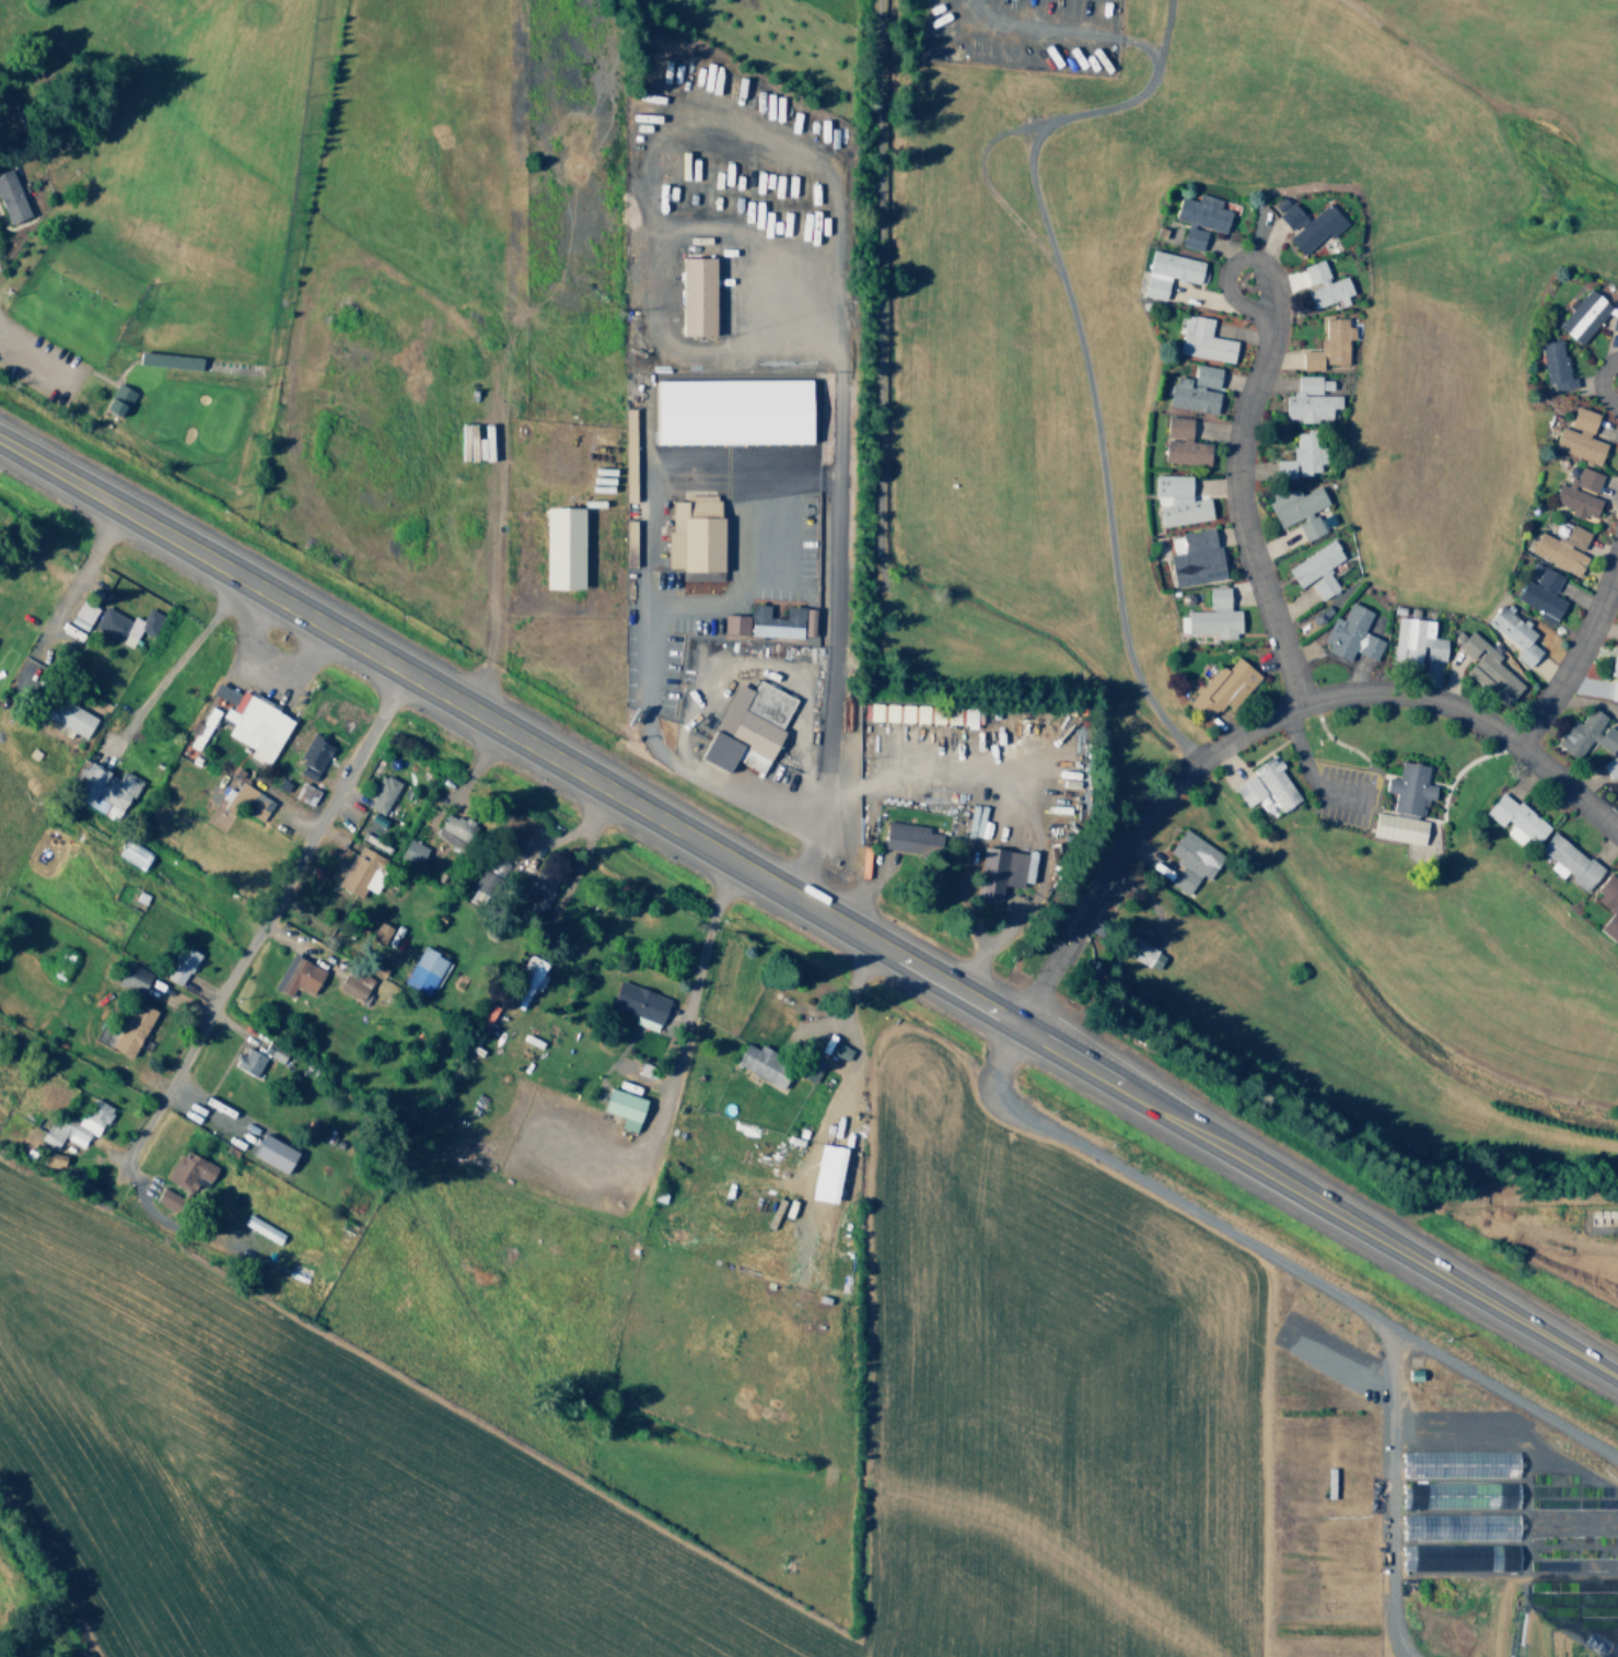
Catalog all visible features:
building: (8, 118)
building: (10, 198)
building: (1201, 211)
building: (1190, 236)
building: (1168, 272)
building: (1323, 285)
building: (696, 295)
building: (1582, 315)
building: (1615, 317)
building: (1202, 340)
building: (1328, 346)
building: (1553, 364)
road: (1600, 386)
building: (1195, 389)
building: (117, 399)
building: (1309, 400)
building: (732, 411)
road: (1246, 417)
building: (1579, 436)
building: (1182, 443)
building: (1302, 456)
building: (1578, 493)
building: (1178, 500)
building: (1293, 504)
building: (1309, 528)
building: (694, 533)
building: (562, 547)
building: (1560, 549)
building: (1194, 557)
building: (1315, 570)
road: (77, 580)
building: (1541, 595)
building: (82, 615)
building: (1213, 616)
building: (764, 622)
building: (124, 625)
building: (1350, 633)
building: (1513, 633)
building: (1416, 639)
road: (1576, 656)
building: (1486, 665)
road: (171, 667)
building: (1614, 675)
building: (1222, 687)
building: (872, 711)
building: (68, 715)
road: (1266, 722)
building: (252, 723)
building: (747, 726)
building: (1586, 734)
building: (1611, 766)
building: (1266, 787)
building: (1408, 787)
building: (103, 790)
building: (1616, 791)
building: (304, 794)
building: (381, 794)
building: (1513, 818)
building: (453, 826)
building: (1397, 828)
building: (909, 839)
building: (412, 851)
building: (132, 854)
building: (1190, 861)
building: (1568, 861)
building: (1001, 871)
building: (360, 872)
building: (481, 882)
building: (539, 887)
building: (1608, 906)
road: (810, 907)
road: (265, 921)
building: (379, 933)
building: (1140, 952)
building: (179, 965)
building: (423, 971)
building: (298, 976)
building: (132, 977)
building: (527, 981)
building: (350, 988)
building: (639, 1005)
building: (131, 1028)
building: (839, 1050)
building: (247, 1061)
building: (763, 1063)
building: (622, 1108)
building: (75, 1124)
building: (273, 1153)
building: (49, 1159)
building: (188, 1170)
building: (826, 1174)
road: (1154, 1191)
building: (167, 1200)
building: (260, 1228)
road: (1502, 1396)
road: (1384, 1493)
building: (1456, 1494)
building: (1459, 1526)
building: (1457, 1557)

